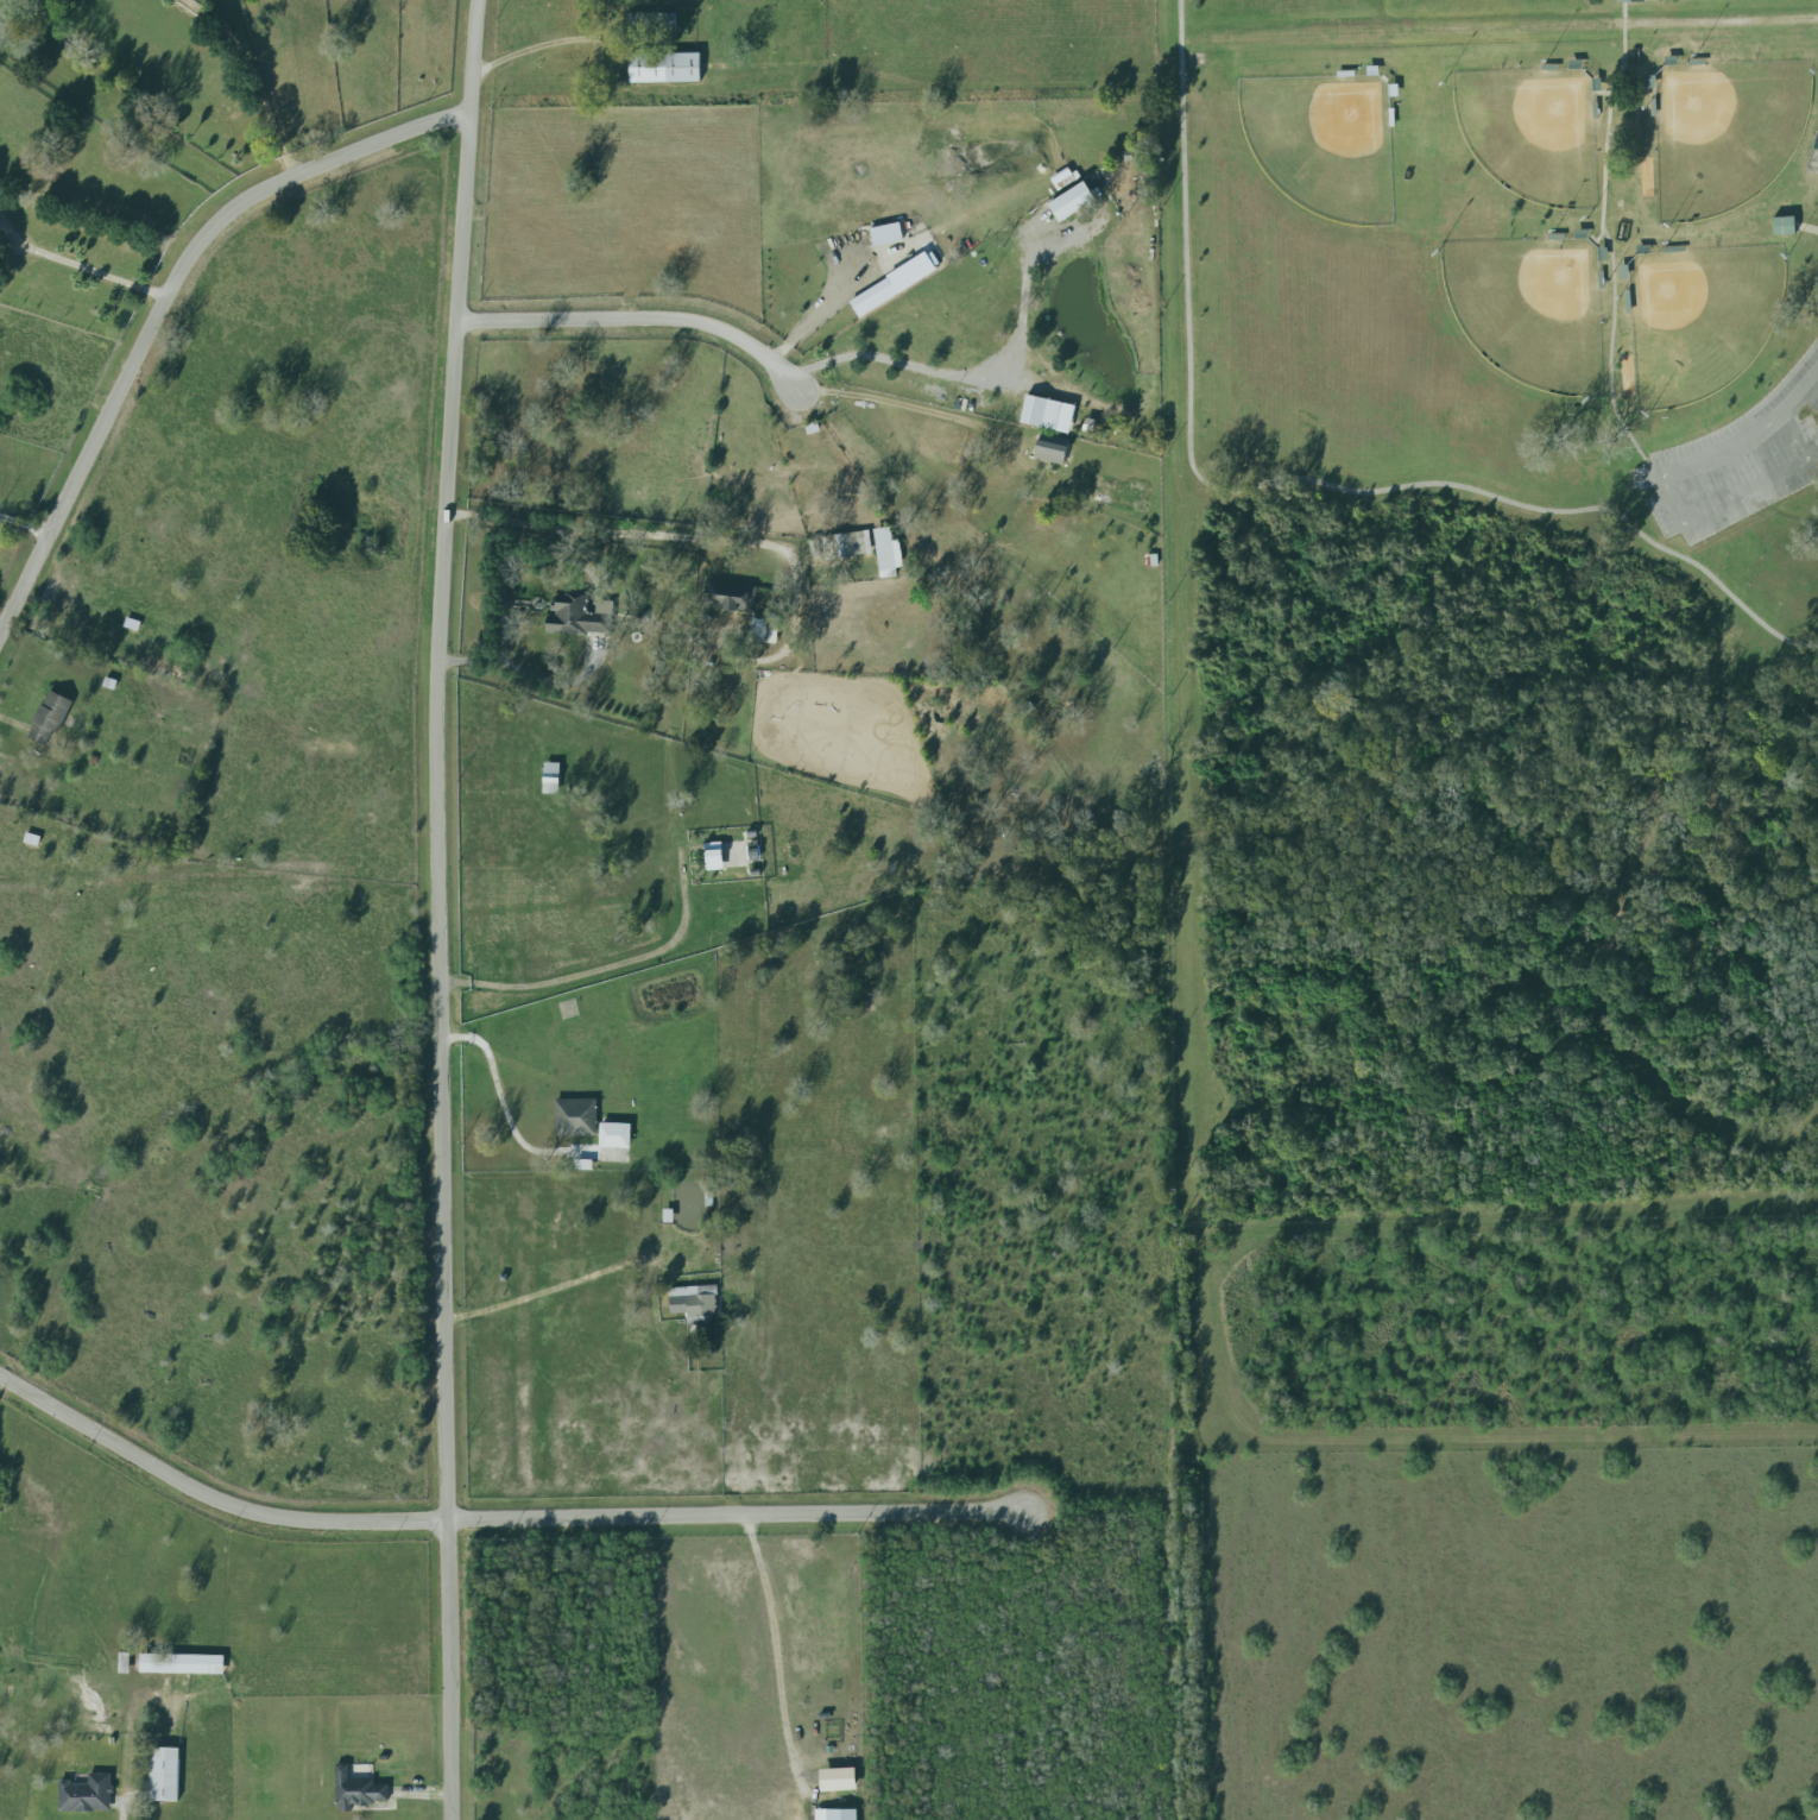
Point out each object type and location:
building: (1630, 1)
road: (196, 10)
road: (1514, 30)
road: (548, 51)
building: (664, 67)
road: (1646, 89)
road: (259, 92)
road: (1599, 93)
road: (1635, 109)
road: (1606, 120)
park: (1530, 132)
park: (1724, 133)
building: (1072, 202)
building: (1784, 226)
road: (1805, 226)
road: (78, 265)
building: (892, 285)
road: (165, 298)
park: (1529, 309)
road: (649, 316)
park: (1699, 319)
road: (896, 360)
road: (1800, 396)
building: (1047, 414)
building: (1052, 449)
road: (1292, 478)
road: (1687, 519)
road: (26, 524)
road: (715, 541)
building: (847, 546)
building: (888, 553)
building: (731, 598)
building: (580, 616)
road: (518, 670)
building: (50, 717)
building: (714, 858)
road: (441, 908)
road: (602, 969)
road: (503, 1108)
building: (587, 1123)
road: (534, 1291)
building: (693, 1301)
road: (504, 1517)
road: (775, 1638)
building: (124, 1663)
building: (182, 1664)
building: (164, 1775)
building: (837, 1780)
building: (356, 1790)
building: (86, 1795)
building: (835, 1815)

